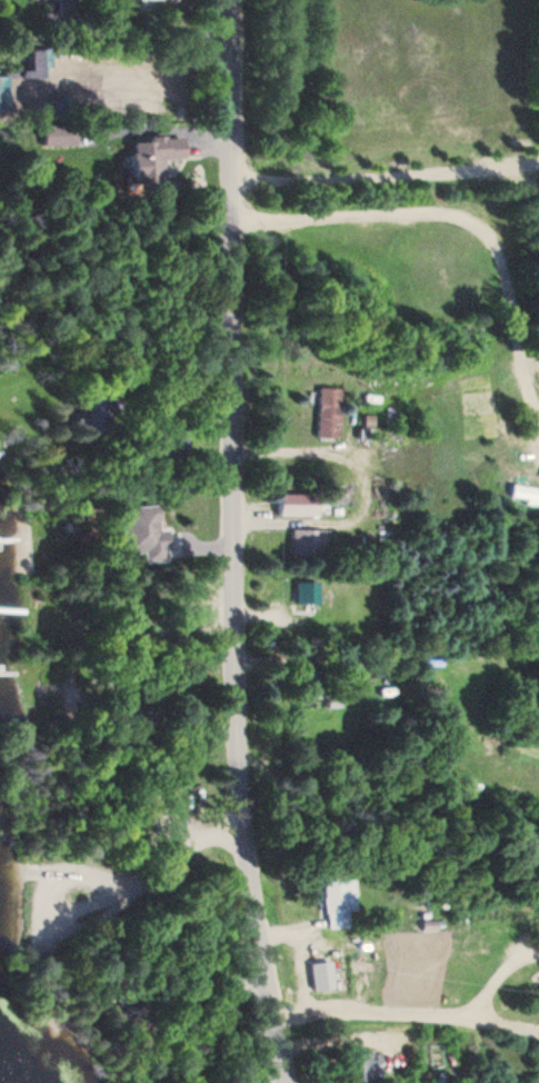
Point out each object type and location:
building: (152, 0)
road: (149, 1)
building: (67, 6)
building: (1, 93)
building: (52, 136)
building: (146, 158)
road: (388, 205)
road: (435, 260)
building: (323, 414)
building: (168, 451)
road: (156, 453)
building: (289, 506)
building: (134, 535)
road: (234, 543)
building: (302, 544)
building: (302, 594)
building: (343, 664)
parking lot: (164, 838)
road: (37, 871)
road: (100, 882)
parking lot: (59, 900)
building: (333, 902)
road: (207, 910)
building: (357, 1067)

